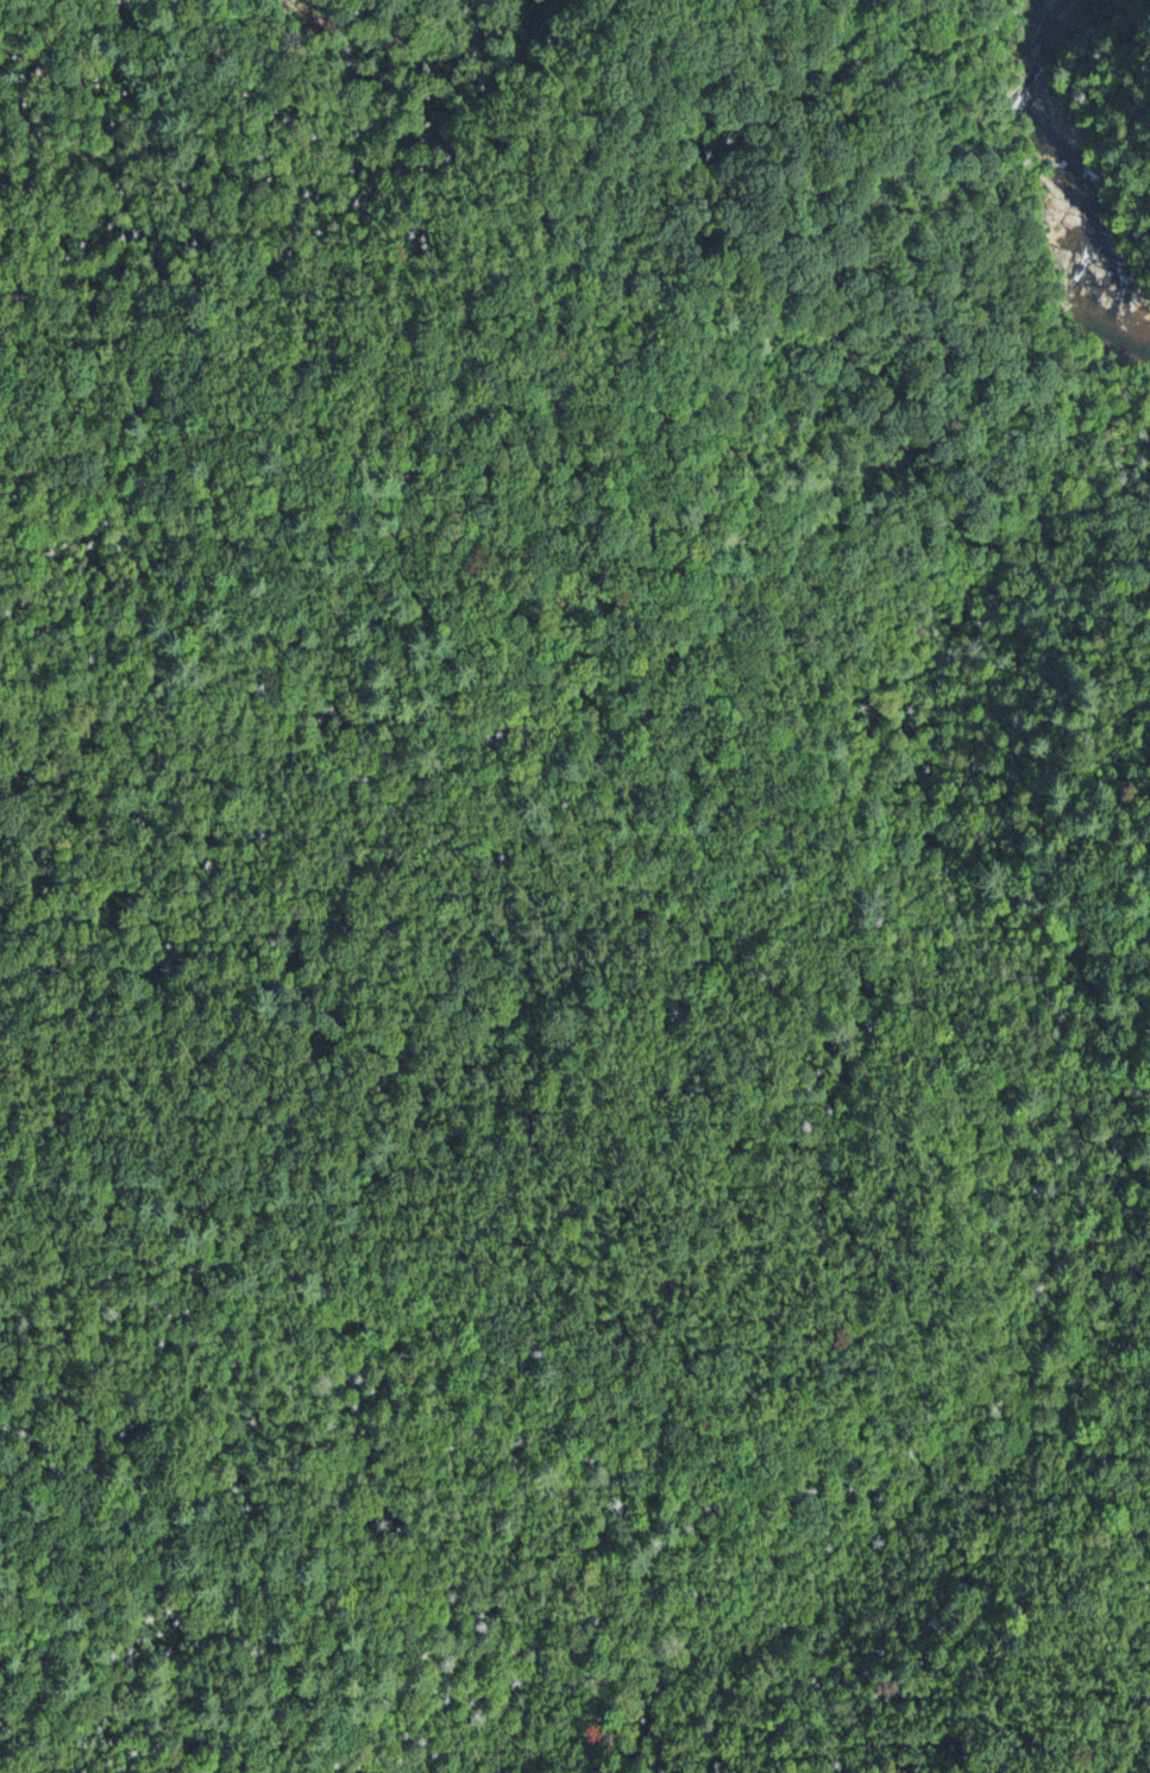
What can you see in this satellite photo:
river: (1069, 177)

